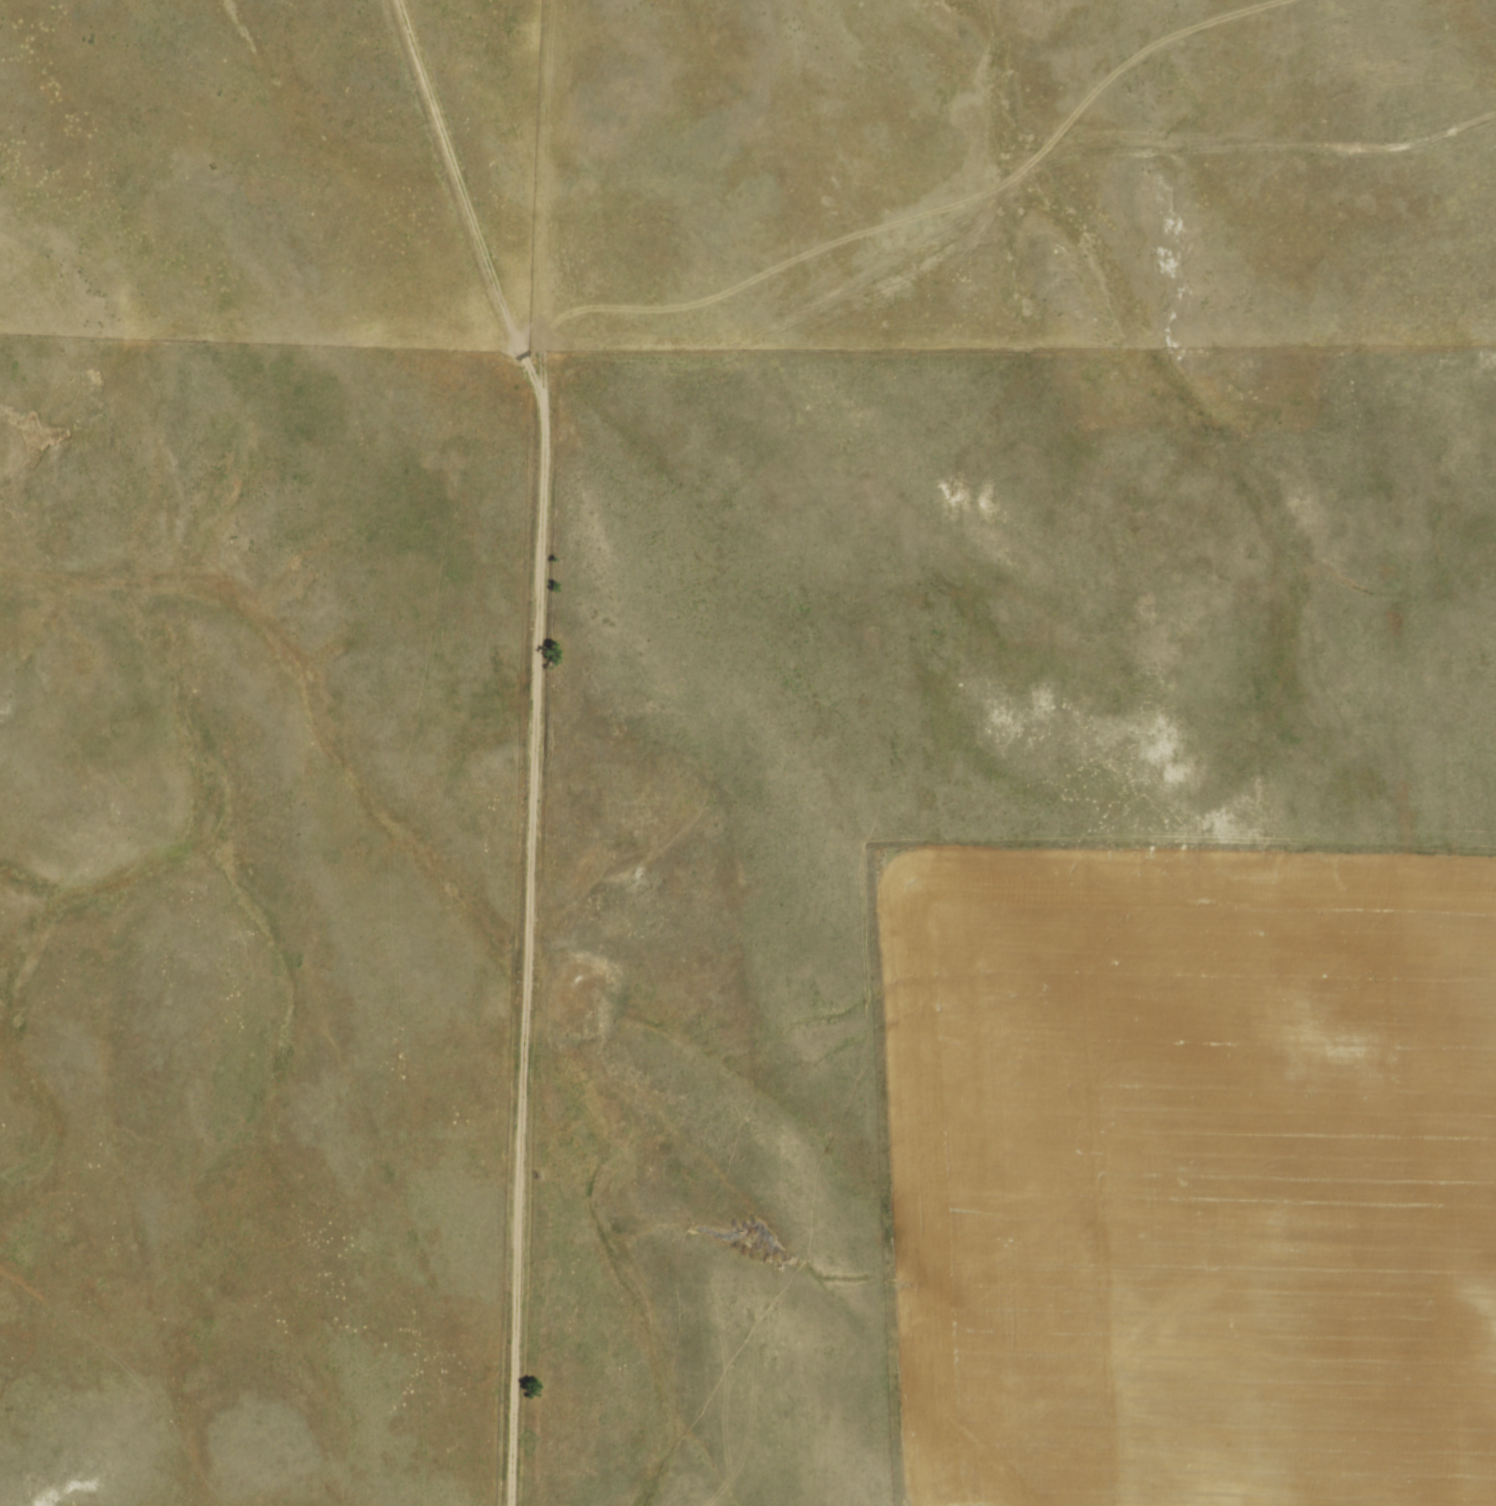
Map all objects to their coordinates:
road: (531, 740)
crop: (1296, 1173)

